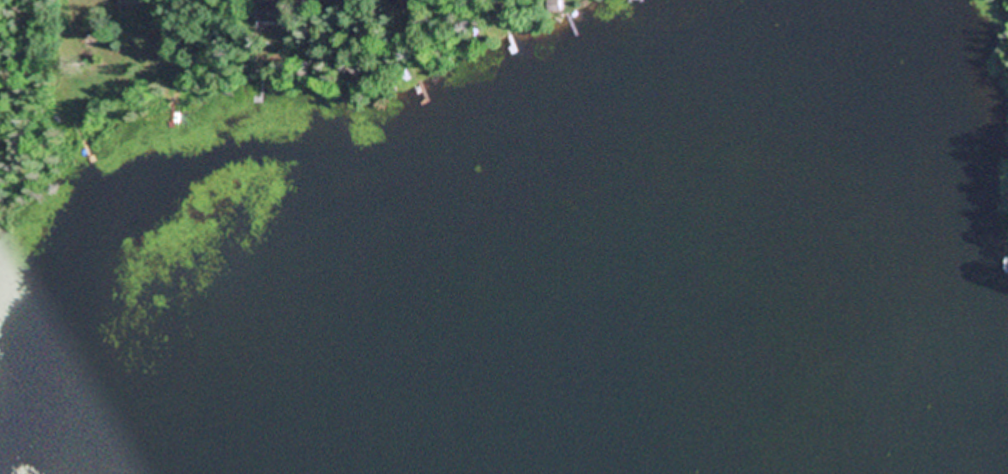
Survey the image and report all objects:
building: (338, 2)
building: (553, 5)
building: (273, 12)

